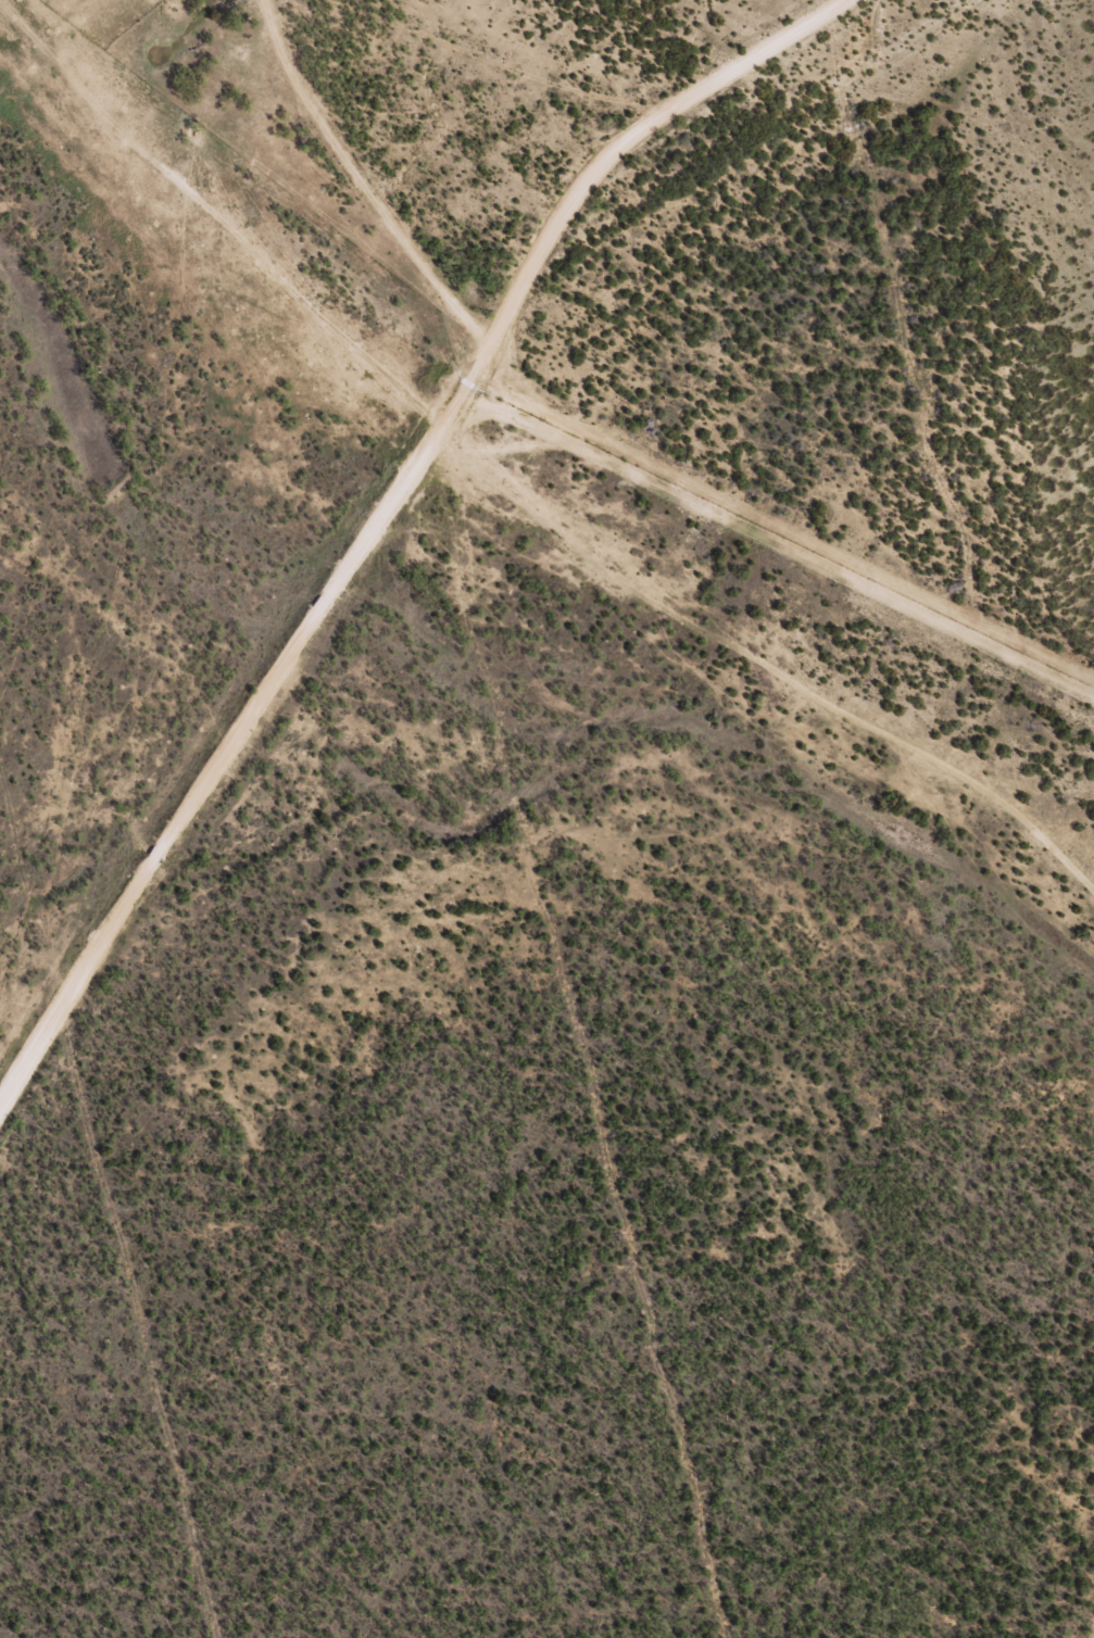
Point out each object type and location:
road: (529, 276)
road: (280, 738)

